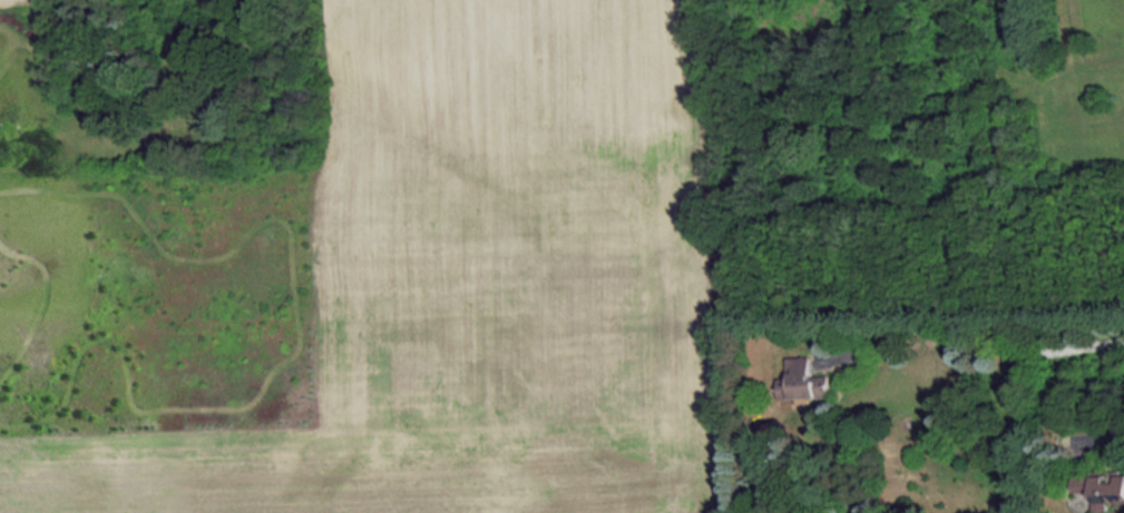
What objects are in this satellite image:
road: (978, 342)
building: (802, 379)
road: (1110, 436)
building: (1102, 487)

